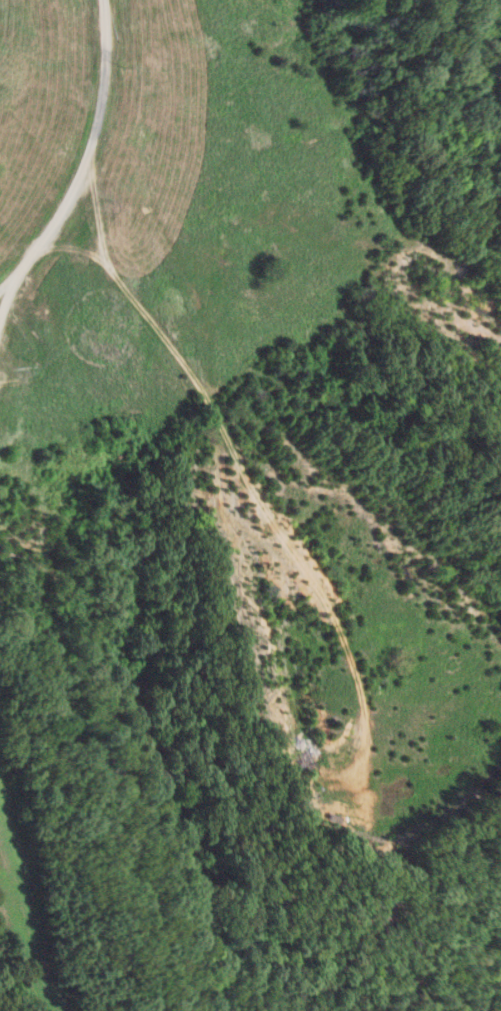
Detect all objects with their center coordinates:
road: (87, 162)
road: (7, 319)

